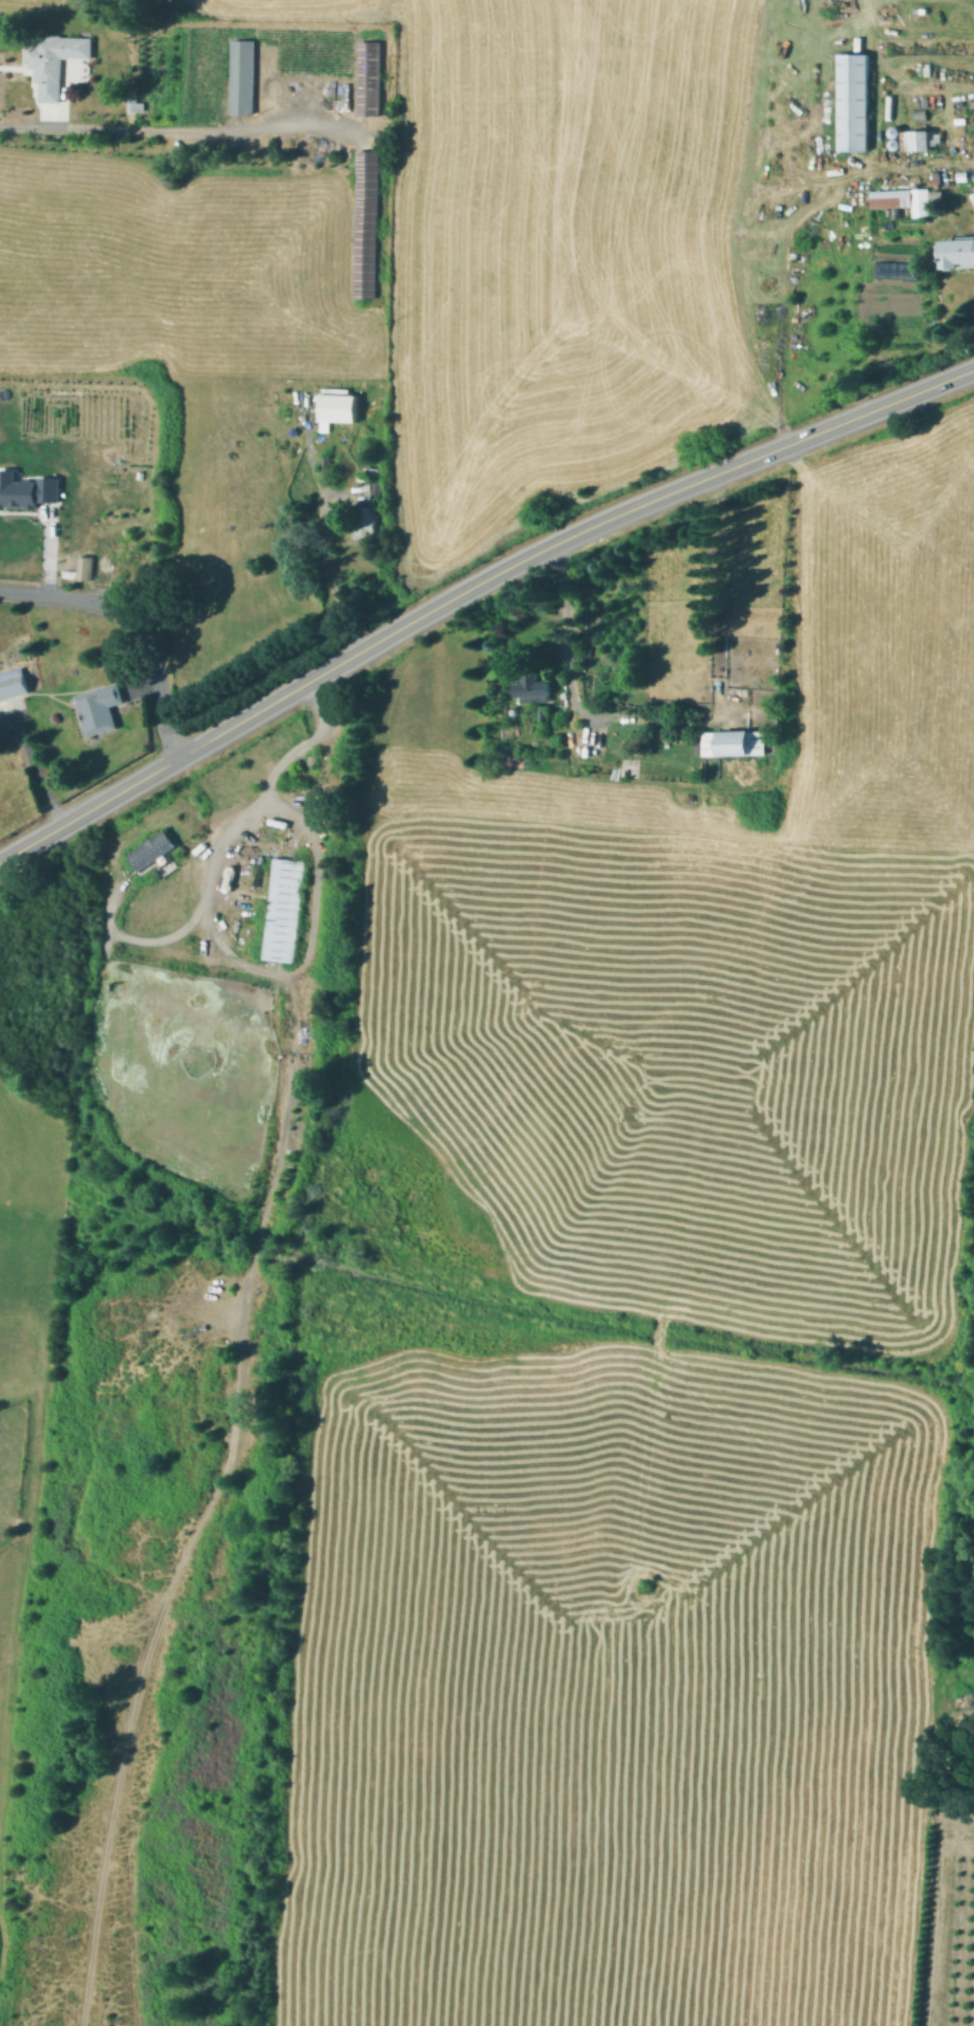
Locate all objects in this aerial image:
building: (57, 62)
building: (244, 76)
building: (370, 79)
building: (854, 102)
road: (172, 130)
building: (896, 135)
silo: (896, 135)
building: (921, 140)
building: (897, 148)
silo: (897, 148)
building: (892, 198)
building: (921, 202)
building: (367, 225)
crop: (559, 242)
building: (958, 252)
building: (335, 405)
building: (326, 464)
building: (370, 472)
building: (25, 488)
building: (376, 492)
building: (366, 523)
building: (95, 537)
road: (49, 550)
building: (125, 570)
building: (81, 571)
road: (473, 588)
road: (139, 622)
building: (13, 684)
building: (531, 688)
building: (101, 709)
building: (731, 741)
road: (34, 768)
building: (150, 850)
building: (280, 908)
road: (149, 939)
road: (306, 939)
road: (191, 953)
building: (112, 988)
crop: (673, 1066)
road: (209, 1498)
road: (11, 1536)
road: (15, 1583)
crop: (606, 1685)

